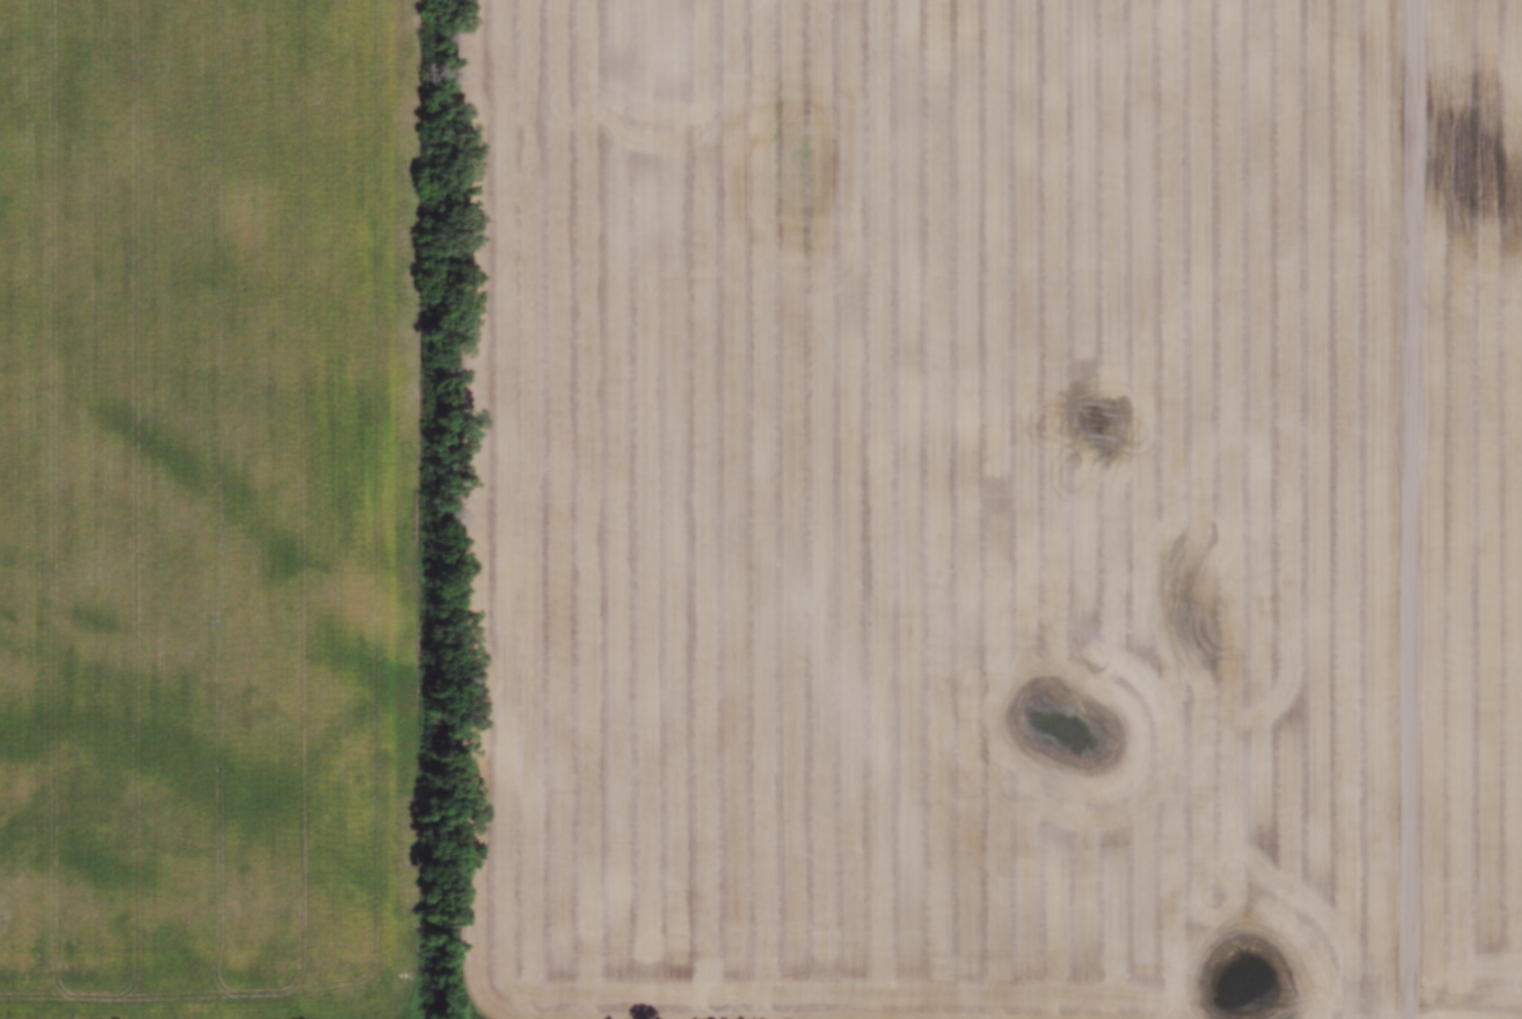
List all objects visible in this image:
road: (1412, 509)

